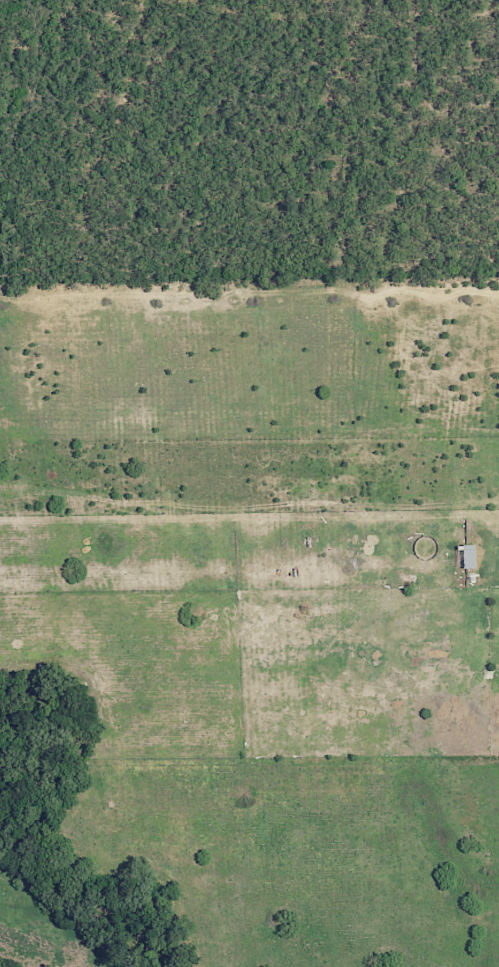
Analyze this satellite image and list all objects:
building: (473, 555)

